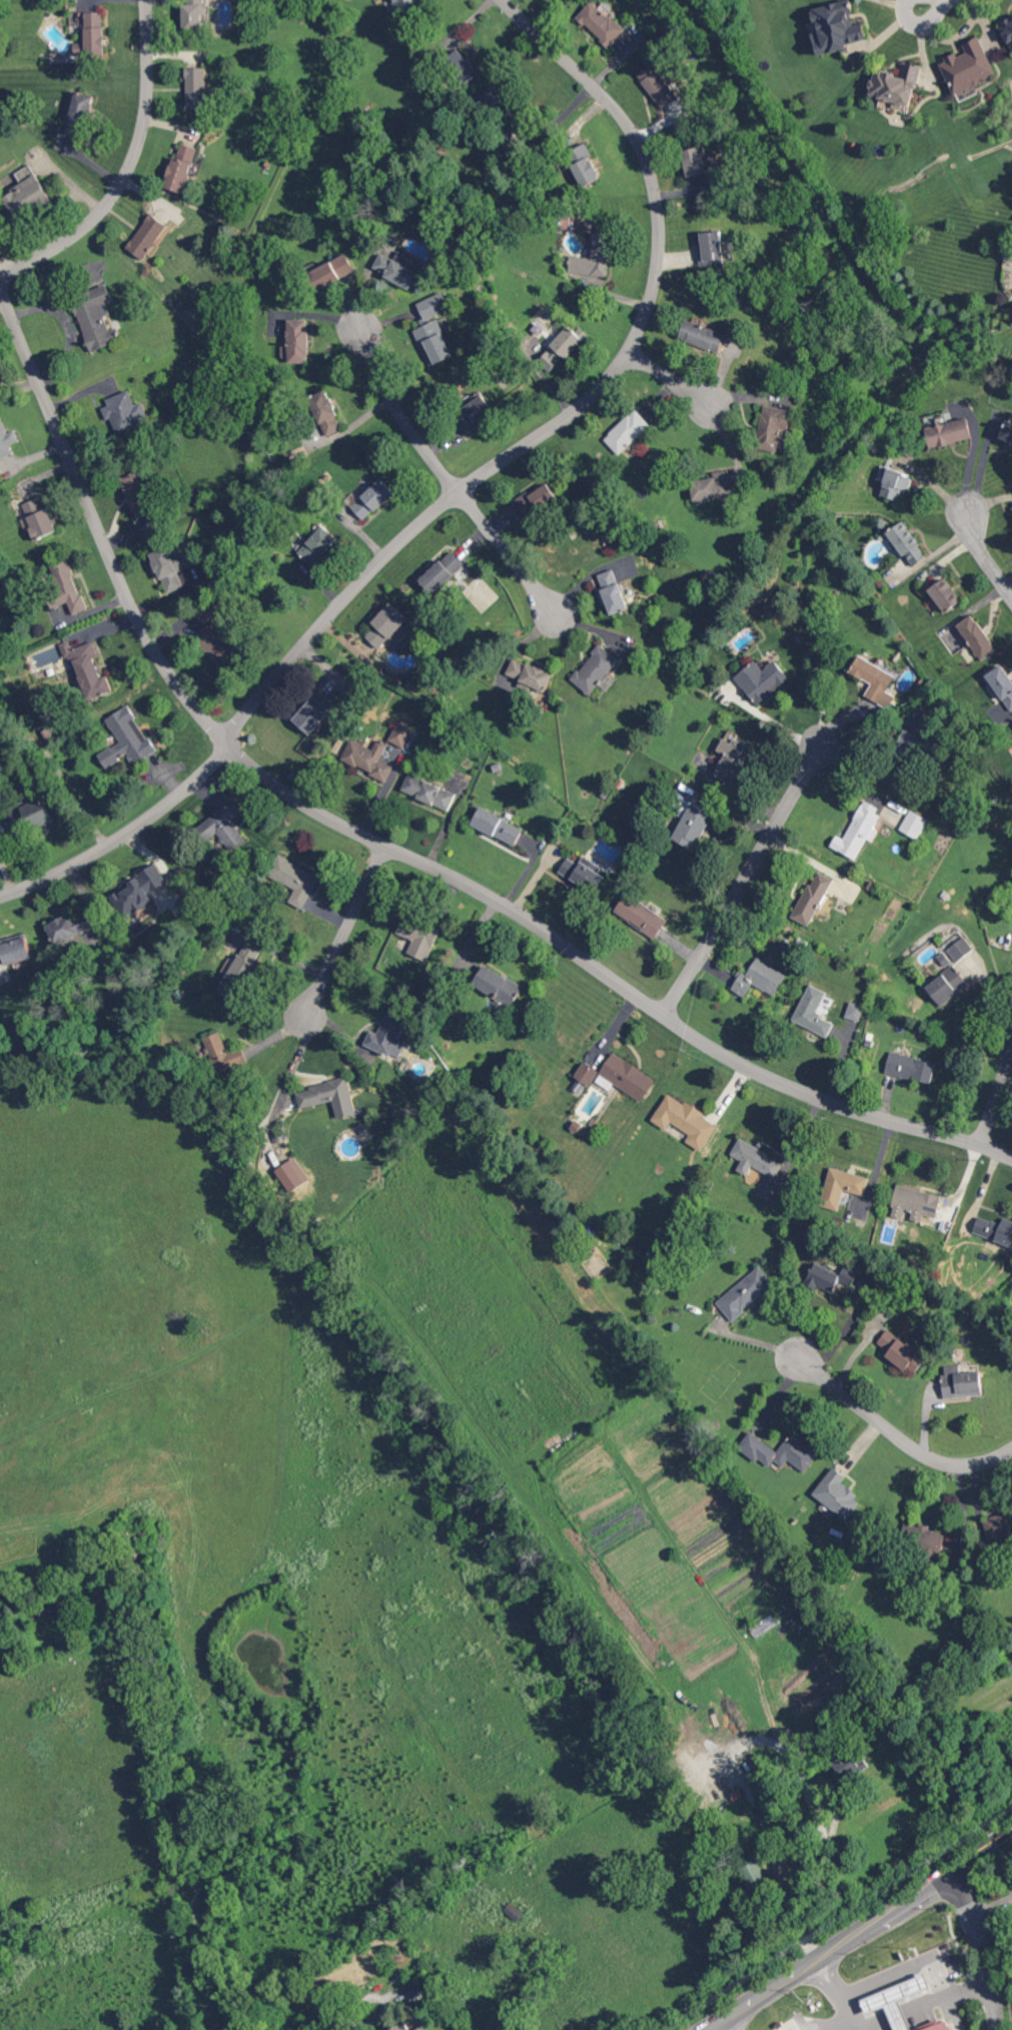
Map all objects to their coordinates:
building: (401, 3)
building: (196, 13)
building: (601, 23)
road: (922, 24)
building: (837, 27)
building: (1007, 30)
building: (94, 33)
building: (464, 65)
building: (968, 66)
building: (658, 85)
building: (896, 85)
building: (197, 88)
building: (497, 98)
building: (79, 113)
building: (695, 161)
road: (127, 165)
building: (181, 167)
building: (26, 191)
building: (147, 236)
building: (711, 249)
building: (595, 257)
building: (396, 268)
building: (331, 270)
building: (96, 317)
building: (433, 329)
building: (710, 337)
building: (297, 340)
building: (557, 347)
road: (672, 377)
road: (579, 406)
building: (125, 412)
building: (326, 413)
building: (473, 413)
building: (775, 428)
building: (1008, 430)
building: (627, 431)
building: (948, 432)
building: (6, 439)
road: (448, 475)
building: (897, 483)
building: (711, 485)
building: (137, 493)
building: (373, 499)
building: (537, 500)
building: (39, 518)
building: (908, 543)
building: (318, 544)
road: (986, 555)
building: (174, 570)
building: (441, 571)
building: (68, 586)
building: (612, 591)
building: (946, 595)
building: (208, 609)
building: (389, 626)
building: (976, 637)
building: (217, 645)
building: (87, 668)
building: (596, 670)
building: (528, 673)
building: (761, 679)
building: (874, 680)
building: (1000, 692)
building: (314, 711)
building: (400, 734)
building: (126, 738)
building: (914, 742)
building: (368, 757)
building: (731, 758)
road: (63, 774)
building: (428, 791)
building: (33, 820)
building: (913, 823)
building: (224, 825)
building: (692, 825)
building: (497, 826)
building: (856, 831)
road: (125, 832)
road: (387, 843)
building: (582, 873)
building: (294, 879)
road: (743, 886)
building: (139, 890)
building: (812, 897)
building: (640, 915)
road: (344, 925)
building: (67, 929)
building: (419, 935)
building: (959, 948)
building: (15, 951)
building: (245, 965)
building: (760, 978)
building: (497, 984)
building: (946, 984)
building: (812, 1011)
building: (854, 1011)
building: (389, 1034)
building: (223, 1056)
road: (296, 1060)
building: (909, 1067)
building: (586, 1073)
building: (627, 1076)
building: (329, 1096)
road: (997, 1098)
building: (686, 1121)
building: (755, 1159)
building: (842, 1186)
building: (915, 1203)
building: (994, 1229)
building: (745, 1293)
road: (858, 1306)
building: (898, 1349)
building: (961, 1382)
road: (900, 1431)
building: (780, 1451)
building: (837, 1494)
building: (998, 1523)
building: (929, 1540)
building: (68, 1609)
building: (762, 1625)
road: (181, 1721)
building: (889, 1730)
building: (847, 1765)
building: (753, 1872)
road: (989, 1905)
building: (514, 1911)
building: (777, 1916)
road: (854, 1928)
road: (979, 1947)
building: (412, 1987)
road: (843, 1995)
road: (951, 1997)
road: (387, 2000)
building: (900, 2004)
road: (725, 2023)
road: (861, 2024)
road: (327, 2026)
building: (406, 2028)
building: (423, 2028)
building: (428, 2029)

